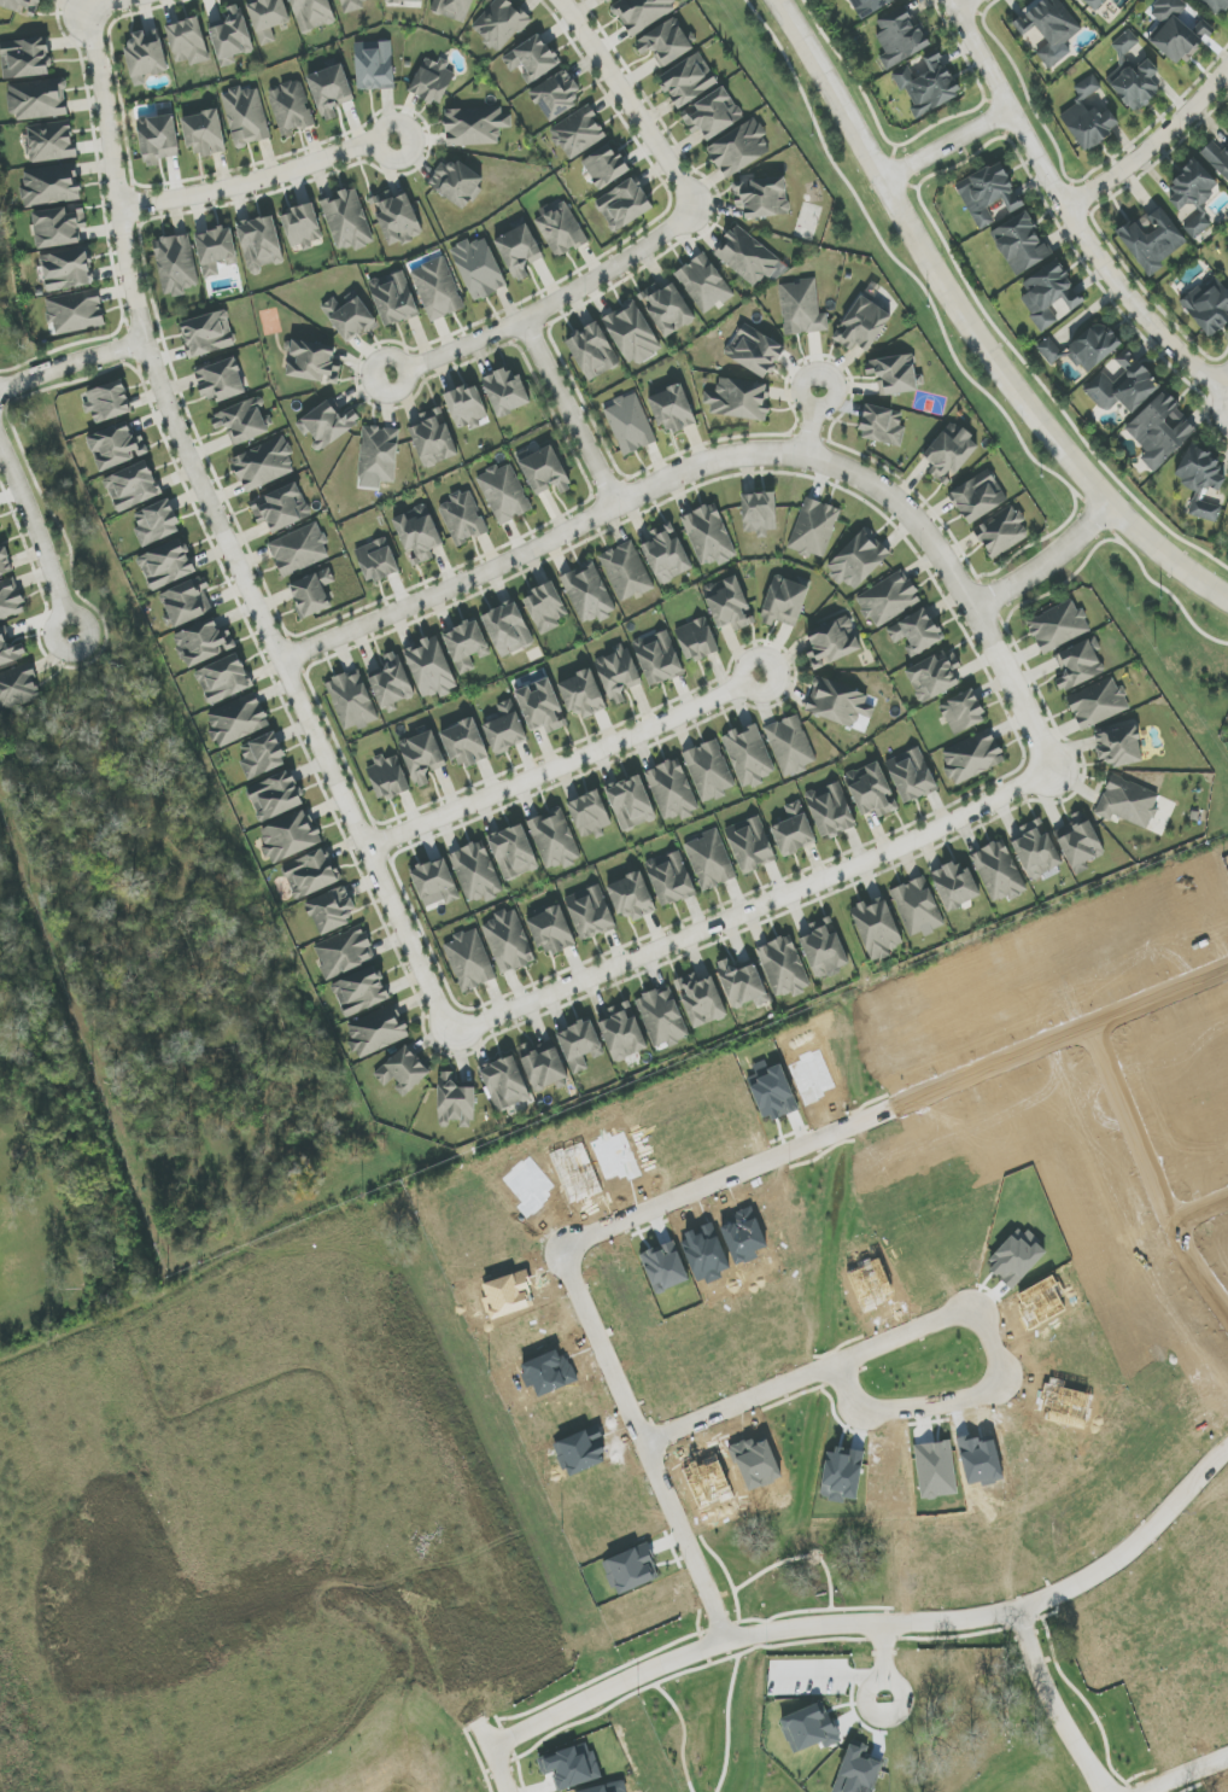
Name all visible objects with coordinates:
building: (608, 0)
building: (404, 1)
building: (1094, 4)
building: (21, 5)
building: (353, 5)
road: (111, 6)
building: (867, 6)
building: (1215, 6)
road: (969, 7)
building: (452, 8)
building: (312, 13)
building: (642, 13)
building: (268, 18)
building: (499, 24)
building: (1047, 30)
building: (1175, 30)
building: (230, 36)
building: (900, 37)
building: (188, 42)
building: (665, 42)
building: (145, 56)
building: (24, 58)
building: (532, 59)
building: (374, 65)
building: (1134, 76)
building: (689, 80)
building: (433, 81)
building: (928, 84)
building: (331, 91)
road: (831, 92)
building: (556, 95)
road: (626, 95)
building: (36, 100)
building: (291, 107)
building: (712, 115)
building: (246, 116)
building: (1088, 117)
building: (475, 126)
building: (204, 133)
building: (578, 133)
building: (157, 138)
building: (51, 141)
road: (1148, 146)
building: (739, 148)
road: (948, 150)
building: (1216, 160)
building: (604, 167)
road: (259, 180)
building: (457, 182)
building: (49, 186)
building: (987, 194)
building: (1193, 194)
building: (762, 198)
building: (624, 205)
road: (1064, 211)
building: (397, 218)
building: (347, 220)
building: (58, 227)
building: (302, 227)
building: (561, 230)
building: (1152, 239)
building: (259, 244)
building: (1021, 244)
building: (216, 251)
building: (519, 251)
building: (747, 257)
building: (176, 264)
building: (479, 268)
road: (905, 269)
building: (66, 270)
building: (704, 284)
building: (438, 290)
building: (1048, 294)
building: (393, 298)
road: (554, 302)
road: (982, 308)
building: (1207, 308)
building: (668, 309)
building: (802, 309)
building: (75, 313)
building: (350, 317)
building: (861, 326)
building: (632, 333)
building: (207, 334)
building: (1084, 349)
building: (592, 351)
building: (754, 351)
building: (312, 362)
road: (71, 363)
building: (894, 374)
building: (221, 380)
building: (1123, 386)
building: (505, 392)
building: (738, 399)
road: (1224, 399)
building: (107, 402)
building: (467, 407)
road: (573, 409)
building: (672, 409)
road: (1034, 411)
building: (241, 422)
road: (811, 424)
building: (327, 425)
building: (630, 425)
building: (883, 426)
building: (1160, 431)
building: (433, 439)
building: (116, 446)
road: (1, 455)
building: (378, 456)
road: (726, 457)
building: (264, 465)
building: (544, 471)
building: (1201, 480)
building: (131, 486)
building: (504, 494)
road: (8, 495)
building: (978, 497)
building: (282, 508)
building: (759, 513)
building: (463, 518)
building: (156, 523)
building: (814, 529)
building: (419, 532)
building: (1002, 532)
road: (224, 535)
building: (708, 536)
road: (35, 538)
building: (299, 550)
building: (667, 554)
road: (29, 556)
building: (378, 560)
building: (859, 560)
road: (1046, 561)
building: (5, 562)
building: (166, 565)
building: (626, 571)
road: (35, 577)
road: (1156, 585)
building: (312, 593)
building: (589, 594)
building: (889, 599)
building: (10, 600)
building: (187, 602)
building: (784, 602)
building: (727, 603)
building: (545, 608)
road: (39, 623)
building: (1058, 626)
building: (508, 629)
building: (916, 632)
building: (696, 640)
building: (201, 642)
building: (831, 643)
building: (466, 644)
road: (54, 649)
building: (10, 652)
building: (657, 658)
building: (1078, 665)
building: (431, 669)
building: (618, 675)
building: (934, 676)
building: (223, 679)
building: (391, 682)
building: (17, 688)
building: (583, 694)
building: (351, 701)
building: (837, 704)
building: (1098, 704)
building: (540, 706)
building: (963, 712)
building: (238, 719)
building: (505, 729)
building: (464, 743)
building: (790, 746)
building: (1119, 747)
building: (262, 757)
building: (422, 757)
building: (749, 757)
building: (972, 757)
road: (563, 761)
building: (709, 771)
building: (911, 775)
building: (387, 777)
building: (673, 790)
building: (871, 790)
building: (275, 796)
building: (1128, 802)
building: (631, 804)
building: (831, 810)
building: (590, 815)
building: (794, 830)
building: (291, 836)
building: (555, 839)
building: (750, 845)
building: (1080, 845)
building: (1036, 851)
building: (513, 852)
building: (711, 860)
building: (999, 871)
building: (476, 872)
building: (310, 874)
building: (671, 879)
building: (435, 883)
building: (957, 886)
building: (632, 897)
road: (753, 906)
building: (918, 907)
building: (331, 911)
building: (590, 912)
building: (877, 928)
building: (551, 930)
building: (508, 941)
building: (824, 950)
building: (344, 952)
building: (469, 961)
building: (784, 967)
building: (741, 983)
building: (361, 992)
road: (1159, 998)
building: (701, 1000)
building: (662, 1017)
building: (378, 1031)
building: (622, 1033)
building: (580, 1045)
building: (543, 1066)
building: (403, 1070)
building: (505, 1084)
building: (455, 1102)
road: (1144, 1151)
road: (636, 1218)
building: (665, 1267)
road: (1198, 1269)
road: (929, 1325)
road: (1134, 1547)
building: (630, 1570)
road: (821, 1625)
road: (885, 1659)
building: (809, 1728)
building: (572, 1767)
building: (858, 1773)
road: (1189, 1775)

